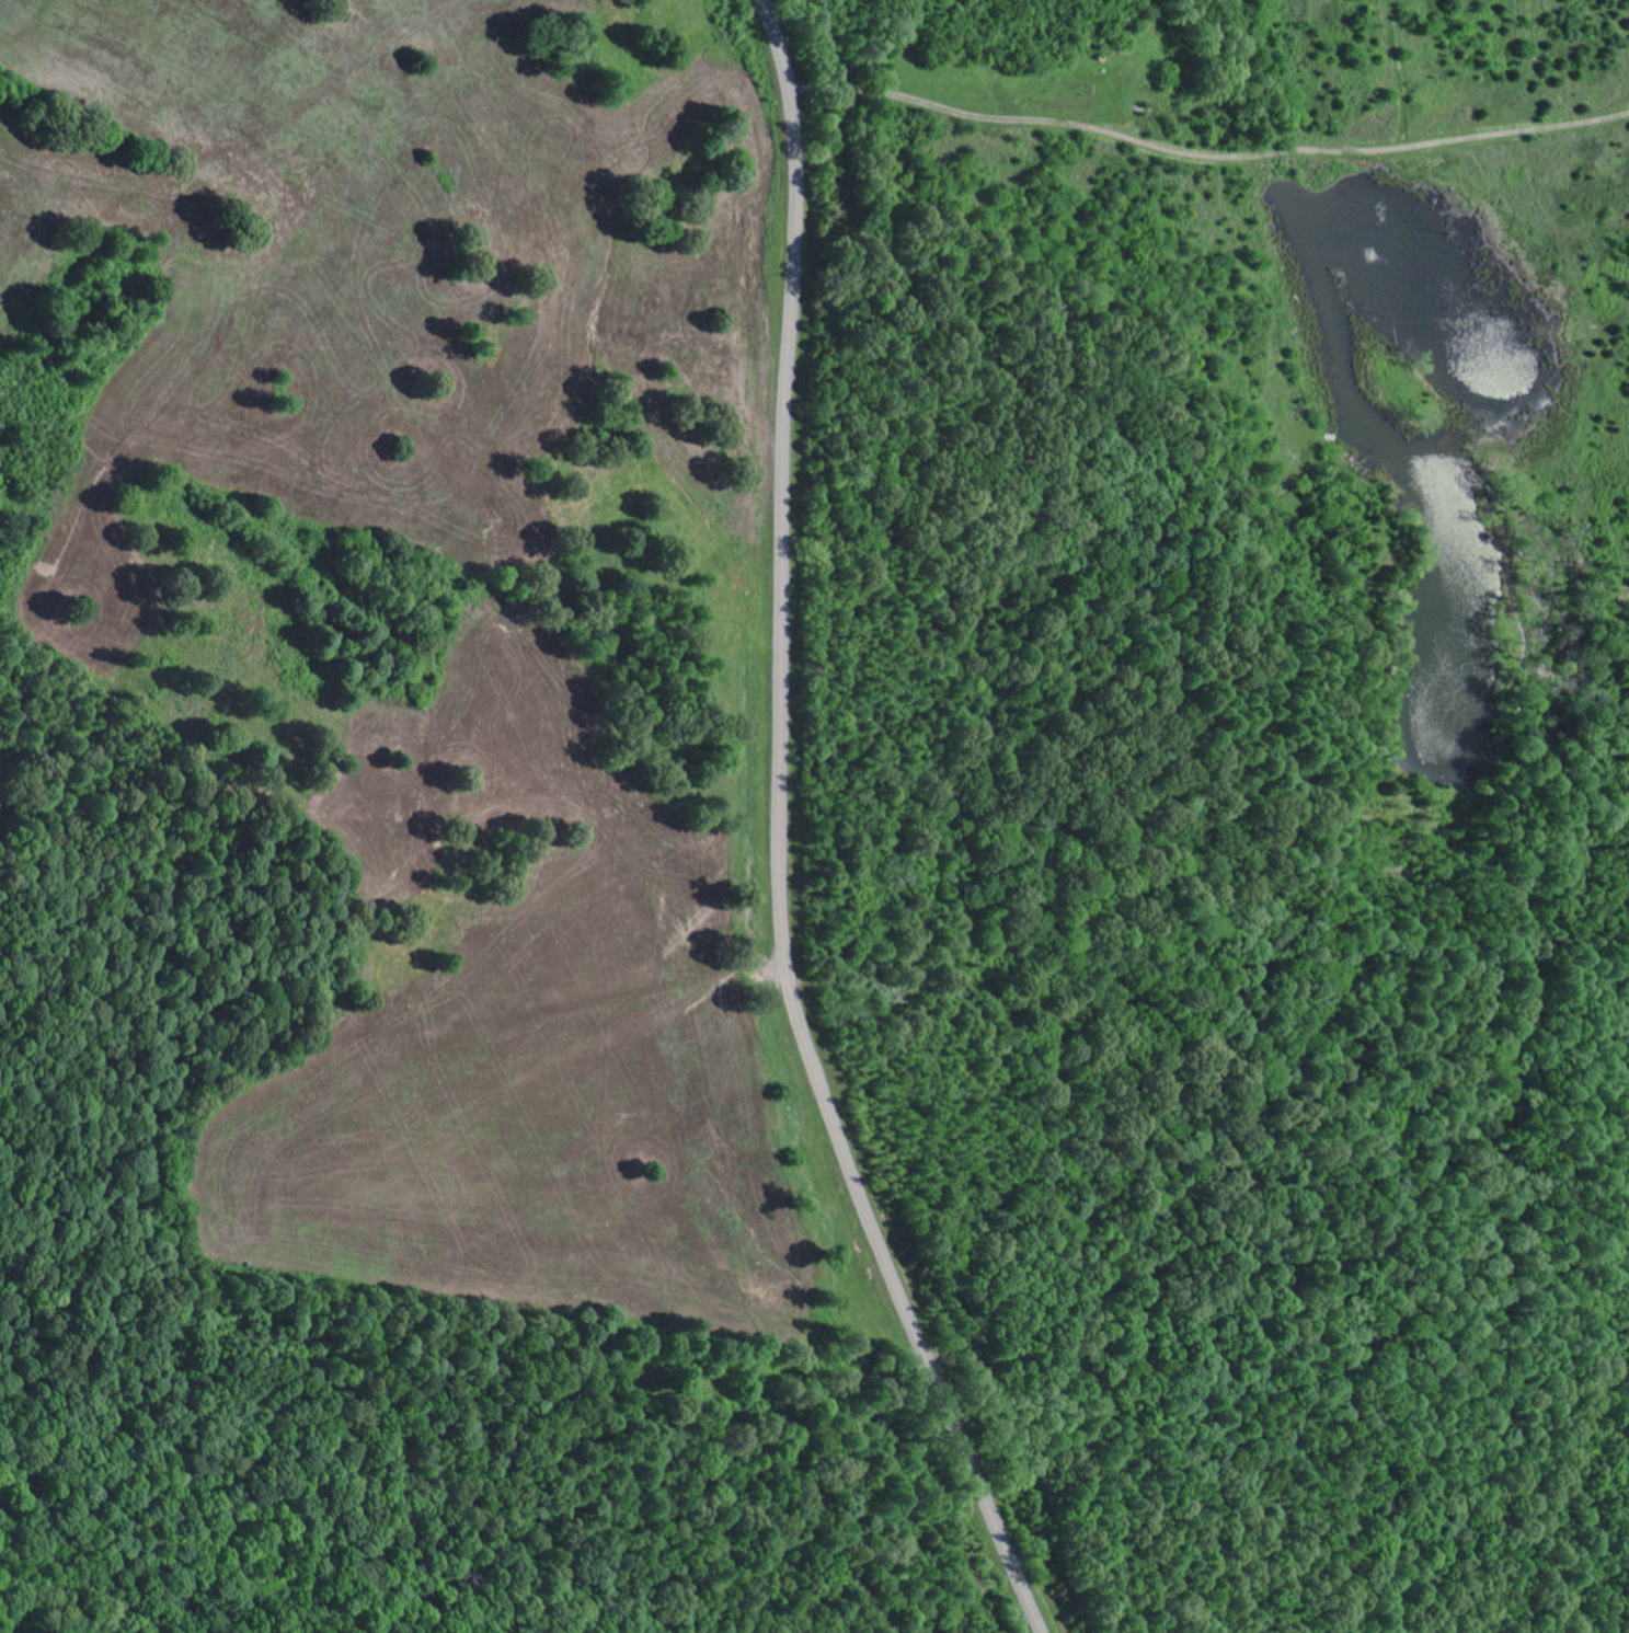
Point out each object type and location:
road: (782, 838)

